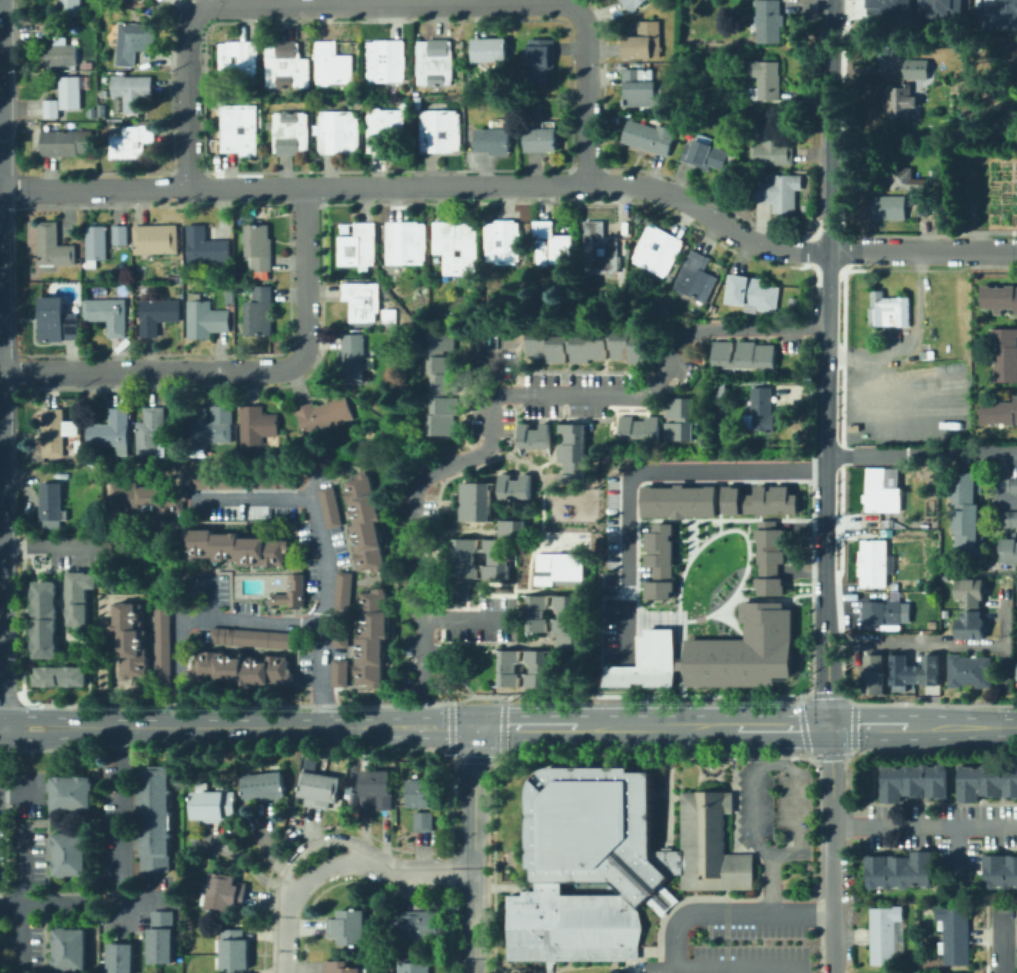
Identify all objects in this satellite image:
building: (158, 0)
building: (161, 0)
road: (385, 4)
building: (633, 4)
building: (70, 8)
building: (941, 8)
building: (998, 14)
building: (768, 21)
building: (53, 30)
building: (133, 41)
building: (645, 41)
building: (726, 41)
building: (491, 51)
building: (60, 54)
building: (540, 59)
building: (386, 61)
building: (239, 62)
building: (435, 63)
building: (286, 65)
building: (332, 65)
building: (917, 69)
building: (765, 81)
building: (469, 83)
building: (642, 87)
building: (133, 92)
building: (65, 97)
building: (901, 102)
building: (102, 109)
road: (844, 119)
building: (384, 128)
building: (239, 129)
building: (440, 130)
building: (339, 132)
building: (291, 133)
building: (650, 137)
building: (542, 139)
building: (133, 140)
building: (493, 141)
building: (67, 143)
building: (773, 149)
building: (707, 156)
building: (911, 179)
road: (516, 182)
park: (985, 186)
building: (780, 192)
building: (890, 208)
building: (924, 208)
building: (807, 210)
road: (828, 225)
road: (831, 227)
road: (815, 232)
road: (929, 235)
building: (121, 236)
building: (156, 240)
building: (502, 242)
building: (407, 243)
building: (96, 244)
building: (552, 245)
building: (205, 246)
building: (457, 246)
building: (53, 247)
building: (359, 247)
building: (259, 248)
building: (601, 250)
building: (658, 251)
road: (811, 251)
road: (842, 252)
road: (3, 258)
road: (815, 269)
road: (830, 275)
building: (697, 278)
building: (752, 294)
building: (228, 297)
building: (998, 297)
building: (362, 301)
building: (793, 303)
building: (889, 310)
building: (260, 312)
building: (108, 315)
building: (157, 315)
building: (54, 320)
building: (206, 320)
road: (913, 339)
building: (589, 348)
building: (1004, 354)
building: (744, 356)
building: (353, 359)
road: (663, 368)
road: (237, 370)
building: (442, 385)
building: (762, 410)
building: (998, 411)
building: (325, 415)
building: (680, 419)
building: (211, 425)
building: (257, 425)
building: (110, 430)
building: (640, 430)
building: (56, 432)
building: (151, 433)
building: (535, 437)
building: (575, 453)
road: (922, 453)
building: (78, 456)
road: (840, 457)
road: (639, 472)
building: (220, 481)
building: (274, 481)
road: (781, 481)
road: (731, 482)
road: (996, 483)
road: (655, 484)
road: (701, 484)
road: (768, 484)
building: (1013, 484)
building: (517, 488)
building: (881, 493)
building: (147, 499)
building: (757, 500)
building: (677, 501)
building: (478, 503)
building: (52, 505)
building: (331, 507)
road: (718, 507)
road: (410, 509)
building: (246, 513)
road: (784, 514)
building: (965, 514)
road: (728, 516)
road: (758, 516)
road: (666, 517)
road: (691, 517)
building: (1007, 518)
road: (724, 519)
building: (366, 522)
parking lot: (619, 528)
road: (703, 529)
road: (732, 529)
road: (746, 533)
road: (640, 537)
road: (691, 537)
road: (678, 538)
road: (686, 539)
road: (703, 539)
street lamp: (699, 543)
road: (54, 548)
building: (1007, 548)
building: (237, 549)
building: (503, 549)
road: (636, 549)
road: (642, 551)
road: (323, 553)
road: (681, 558)
building: (768, 558)
road: (3, 559)
building: (659, 561)
building: (871, 562)
building: (463, 569)
building: (560, 569)
road: (809, 572)
road: (797, 583)
road: (640, 587)
road: (745, 587)
road: (826, 590)
building: (344, 592)
road: (675, 592)
building: (970, 592)
building: (293, 593)
road: (617, 596)
road: (205, 597)
building: (82, 598)
road: (771, 598)
road: (769, 600)
road: (785, 603)
street lamp: (674, 606)
building: (538, 613)
building: (882, 613)
road: (5, 615)
building: (43, 618)
road: (217, 618)
road: (698, 618)
road: (464, 619)
road: (686, 620)
road: (730, 623)
building: (568, 626)
building: (971, 626)
road: (680, 633)
building: (341, 634)
building: (373, 638)
building: (255, 639)
building: (132, 641)
road: (943, 644)
building: (164, 645)
road: (612, 649)
building: (743, 650)
building: (645, 661)
building: (678, 665)
building: (510, 669)
building: (538, 669)
building: (243, 670)
building: (914, 671)
building: (969, 671)
building: (340, 673)
building: (1015, 673)
building: (58, 675)
building: (875, 677)
road: (810, 681)
road: (817, 694)
road: (800, 710)
road: (31, 714)
road: (0, 716)
road: (266, 726)
road: (524, 726)
road: (657, 726)
road: (784, 726)
road: (868, 726)
road: (962, 726)
road: (31, 738)
road: (798, 740)
road: (798, 781)
building: (913, 782)
building: (987, 782)
building: (263, 787)
building: (319, 789)
building: (376, 790)
road: (20, 793)
building: (422, 793)
building: (71, 794)
building: (212, 804)
building: (155, 818)
building: (423, 822)
road: (924, 824)
road: (120, 825)
road: (310, 845)
road: (473, 849)
road: (833, 849)
road: (957, 853)
building: (69, 854)
building: (613, 862)
road: (337, 864)
building: (899, 871)
building: (1000, 871)
building: (223, 893)
road: (22, 899)
road: (147, 903)
road: (45, 904)
road: (724, 917)
building: (885, 920)
building: (953, 920)
building: (413, 924)
building: (348, 927)
building: (161, 939)
road: (1005, 945)
road: (3, 948)
building: (68, 950)
building: (883, 950)
building: (233, 951)
building: (955, 951)
building: (120, 958)
building: (341, 967)
building: (415, 967)
road: (738, 967)
building: (942, 972)

